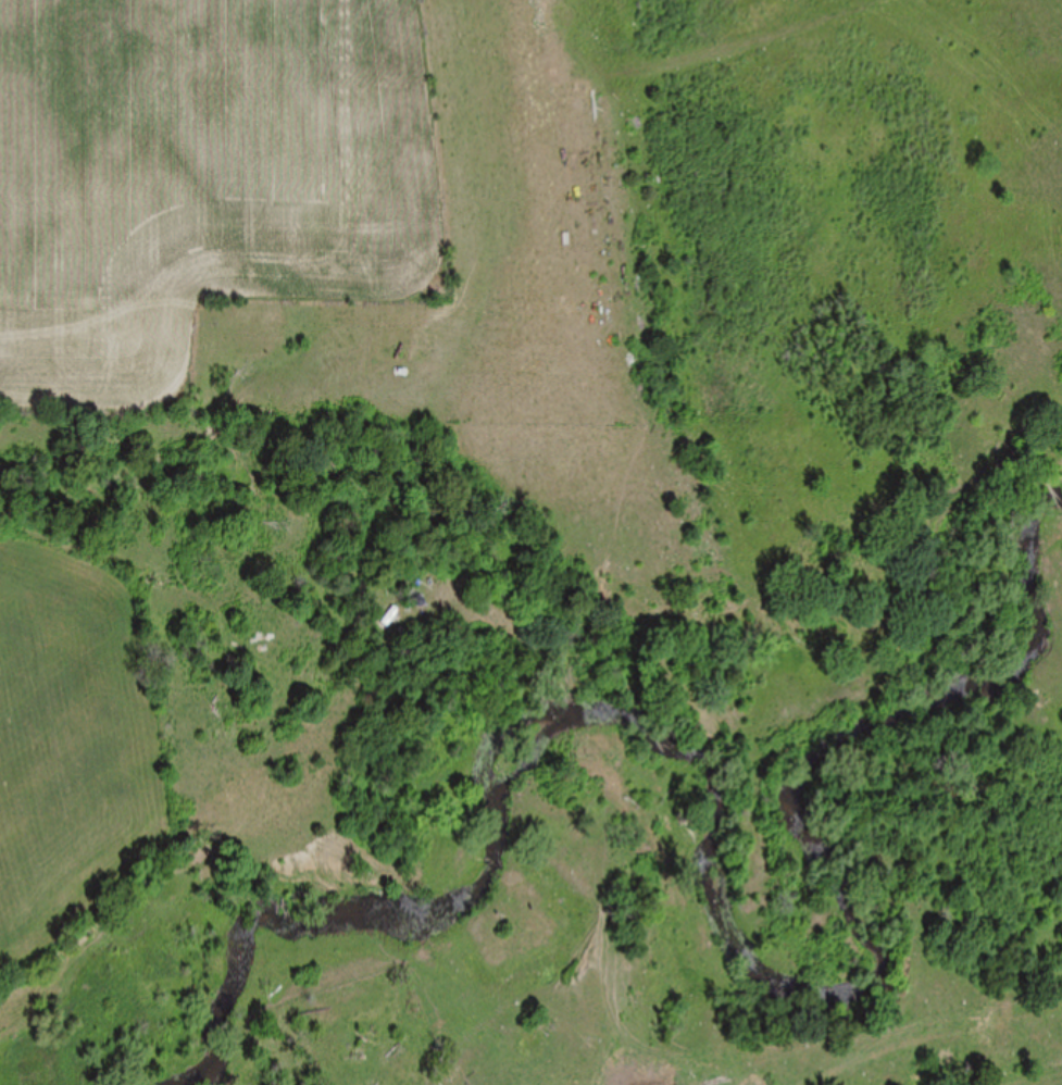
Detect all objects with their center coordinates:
road: (999, 893)
road: (1015, 994)

